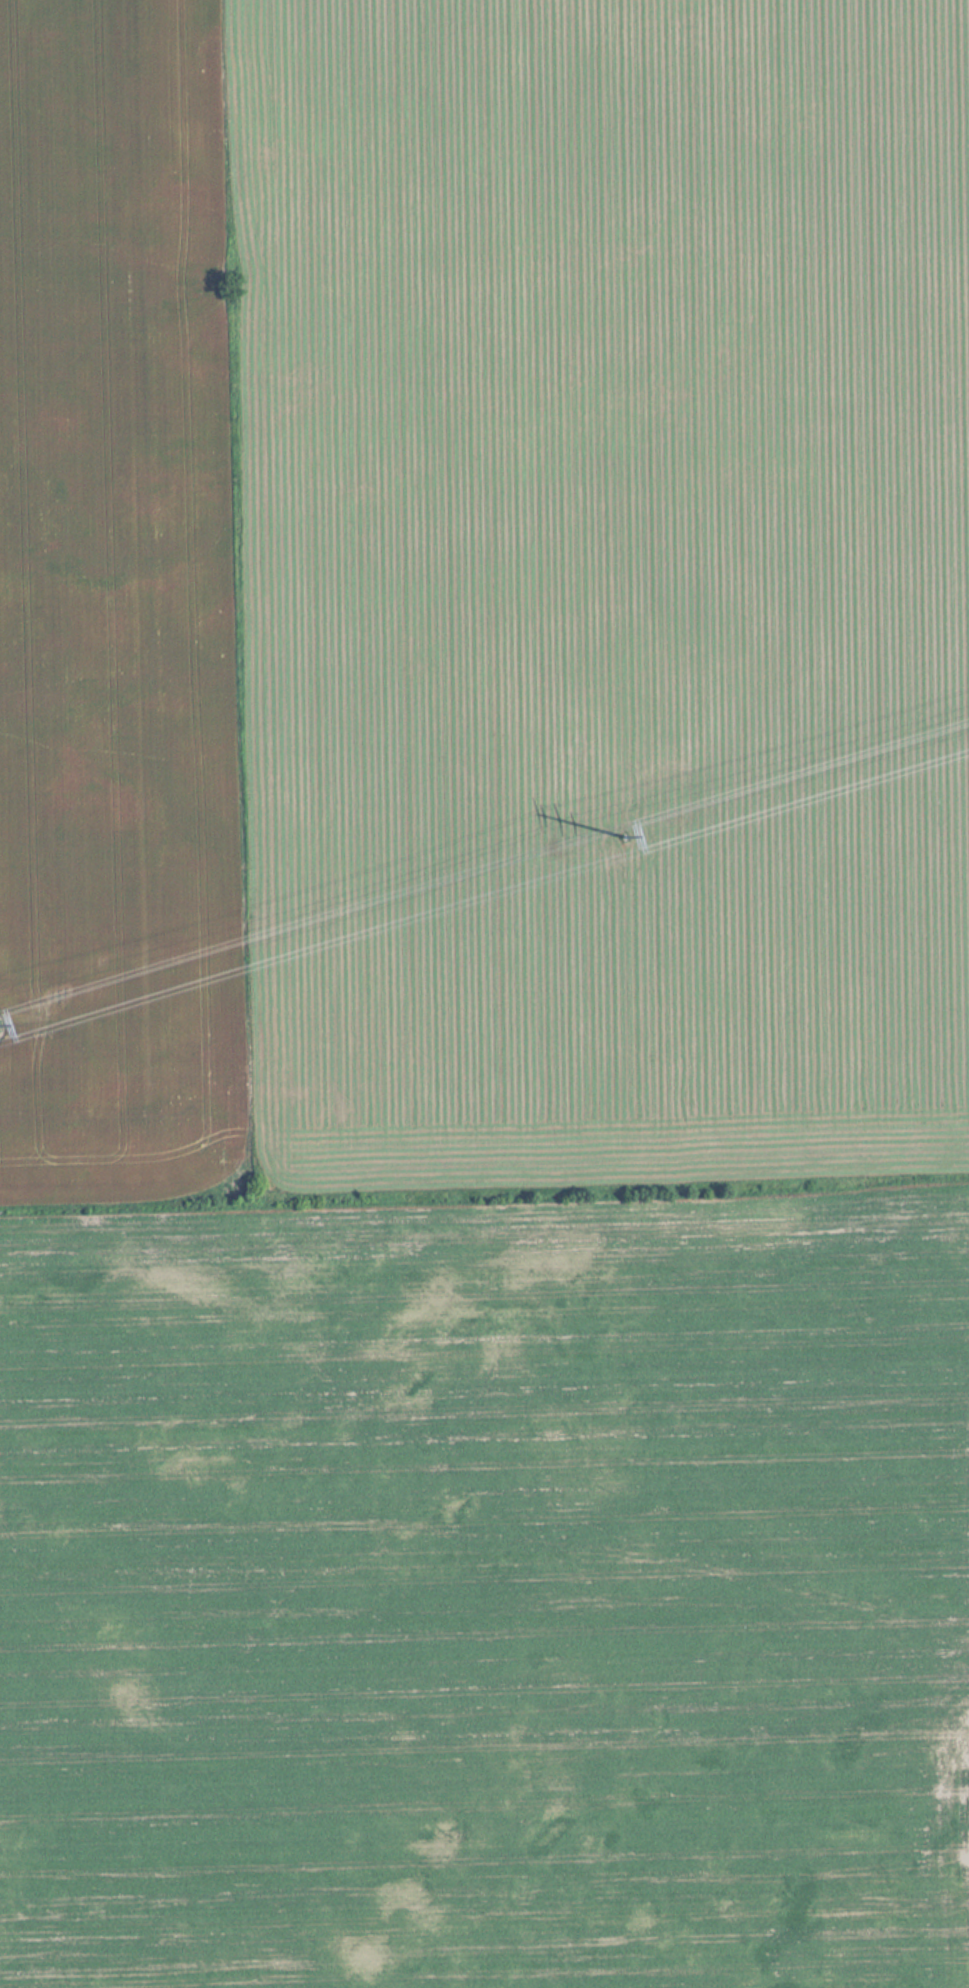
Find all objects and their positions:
power tower: (616, 840)

